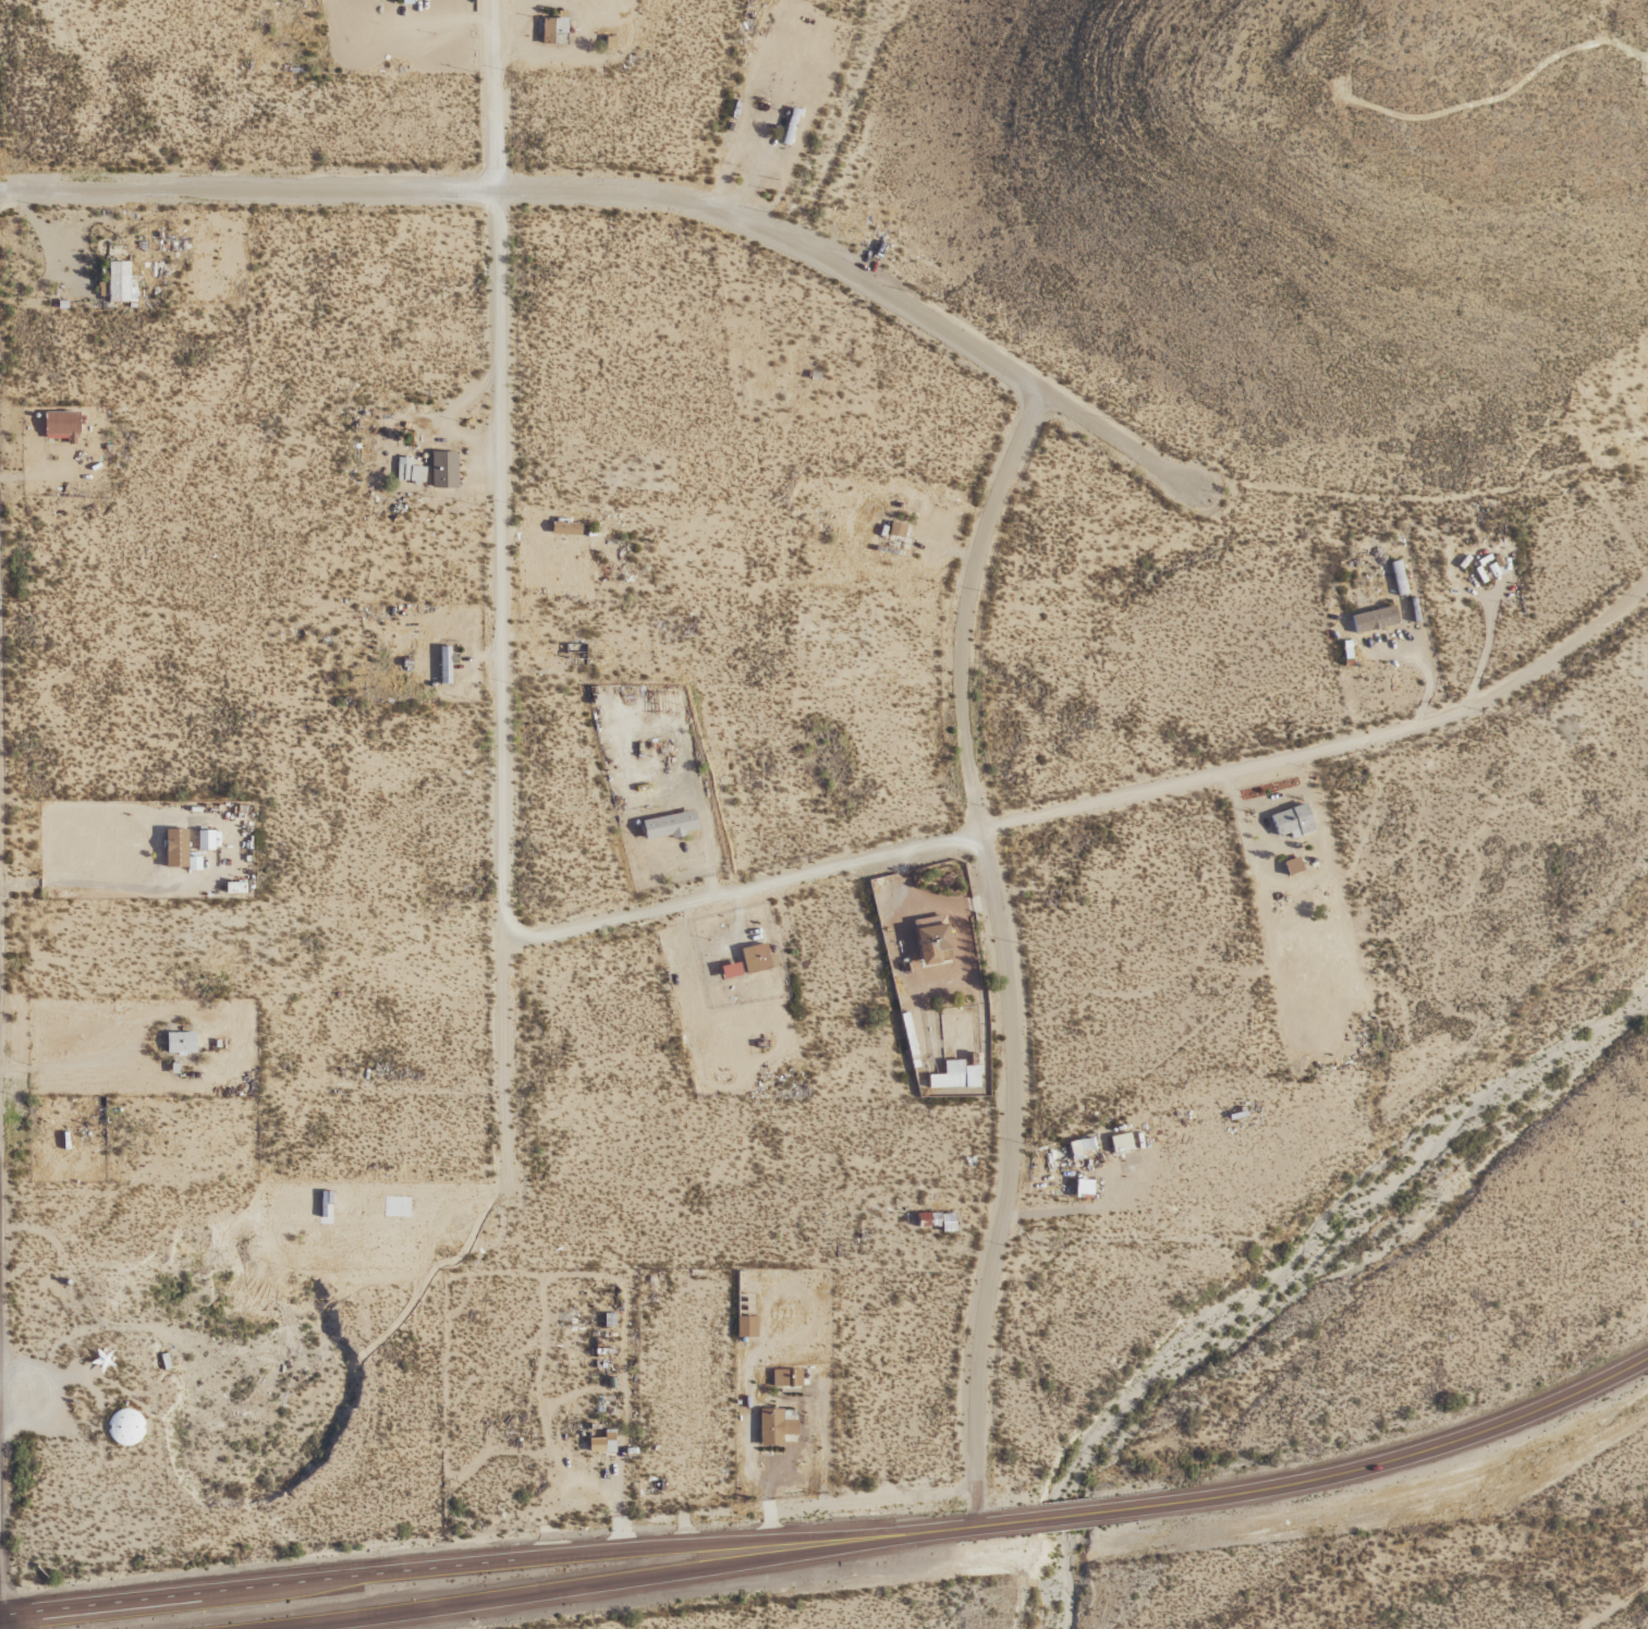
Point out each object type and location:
building: (552, 32)
road: (831, 137)
building: (731, 162)
road: (623, 193)
building: (118, 283)
building: (59, 425)
building: (442, 471)
building: (407, 473)
building: (948, 503)
building: (564, 530)
building: (895, 531)
road: (500, 593)
building: (1371, 621)
building: (443, 665)
road: (1092, 804)
building: (1291, 822)
building: (668, 828)
building: (204, 840)
building: (174, 849)
road: (89, 885)
building: (233, 888)
building: (933, 945)
road: (1000, 952)
building: (754, 959)
building: (179, 1043)
road: (82, 1062)
building: (954, 1077)
building: (1055, 1160)
building: (930, 1220)
building: (784, 1379)
building: (772, 1429)
building: (124, 1430)
building: (607, 1442)
road: (1320, 1474)
road: (761, 1493)
road: (609, 1496)
road: (725, 1548)
road: (595, 1578)
road: (239, 1591)
road: (1613, 1606)

